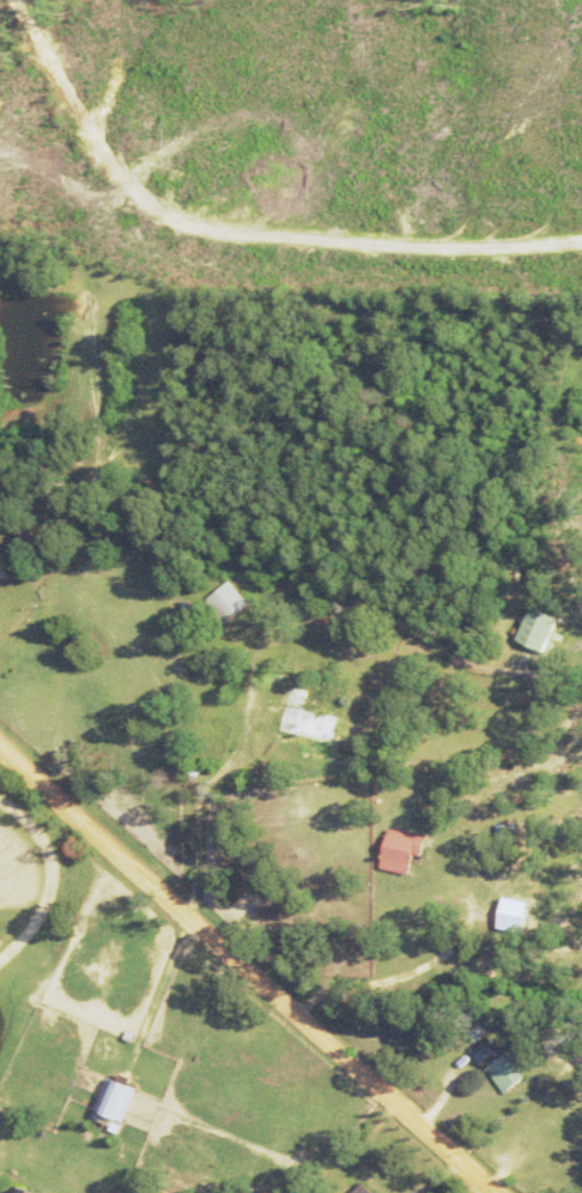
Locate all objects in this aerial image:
road: (236, 225)
building: (225, 603)
building: (532, 632)
building: (304, 723)
road: (226, 763)
building: (398, 852)
building: (422, 876)
building: (511, 916)
road: (242, 972)
road: (152, 984)
building: (502, 1074)
building: (107, 1101)
building: (572, 1126)
building: (358, 1189)
building: (6, 1191)

